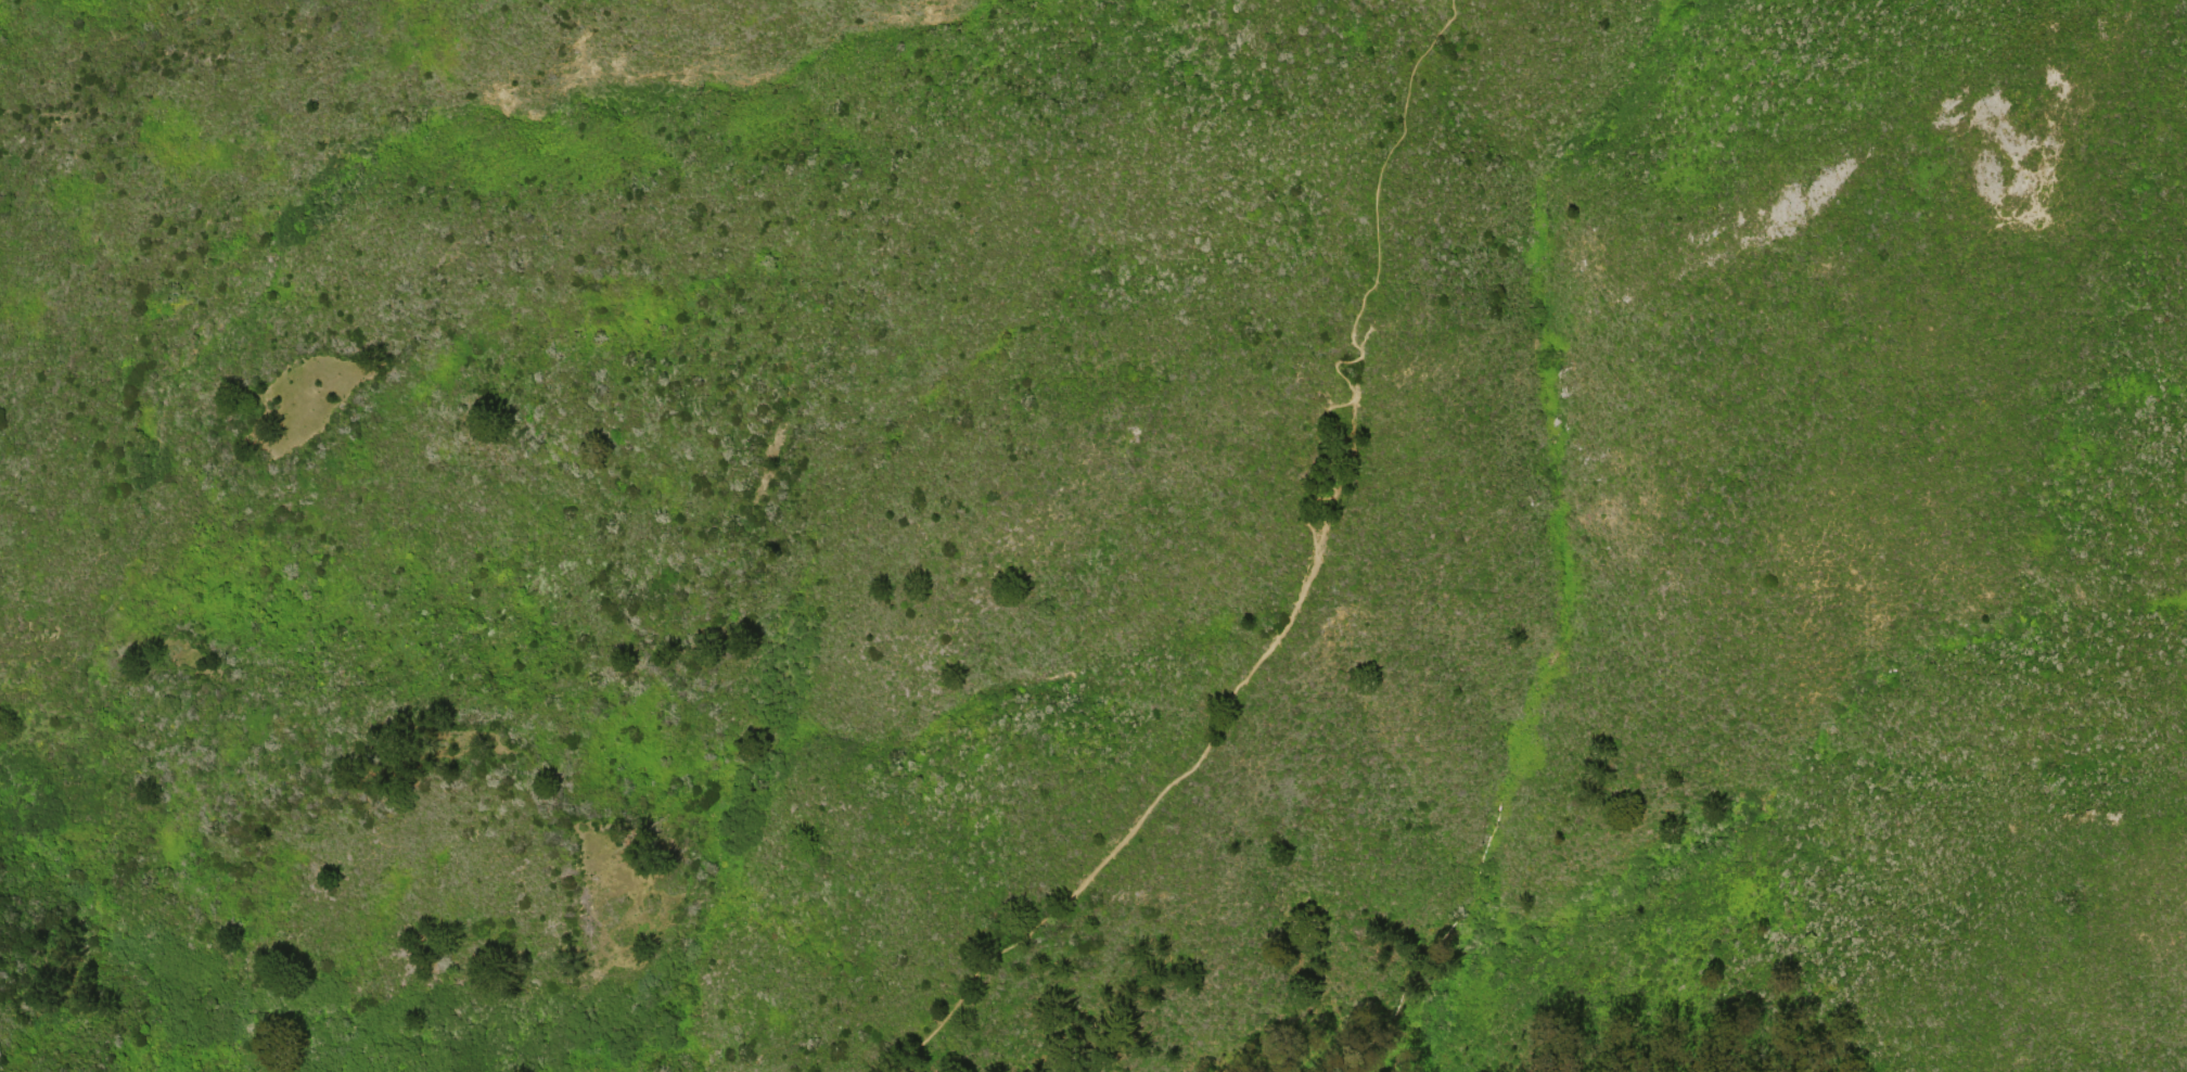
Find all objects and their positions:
park: (1182, 533)
road: (1294, 598)

